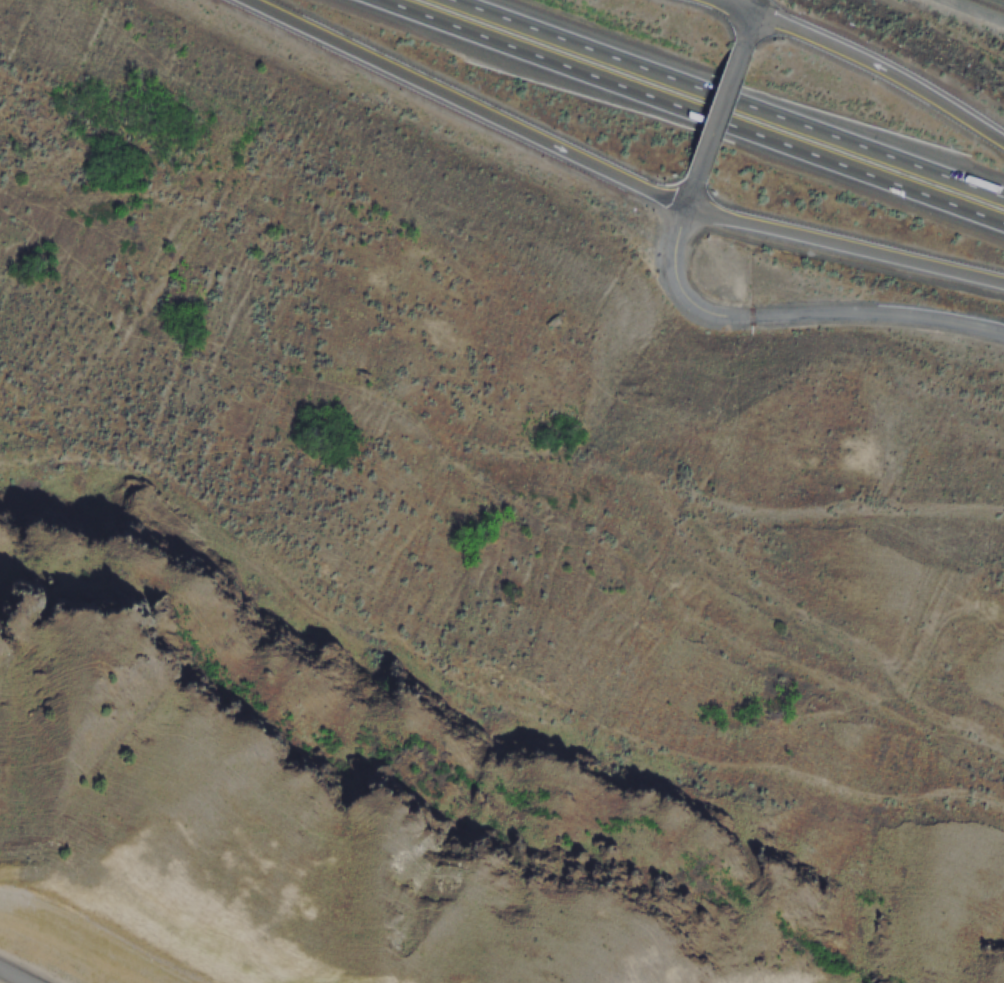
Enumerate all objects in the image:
railway: (991, 5)
road: (730, 9)
road: (752, 24)
road: (884, 68)
road: (752, 90)
road: (464, 106)
road: (720, 115)
road: (671, 122)
road: (846, 242)
road: (782, 318)
road: (12, 976)

